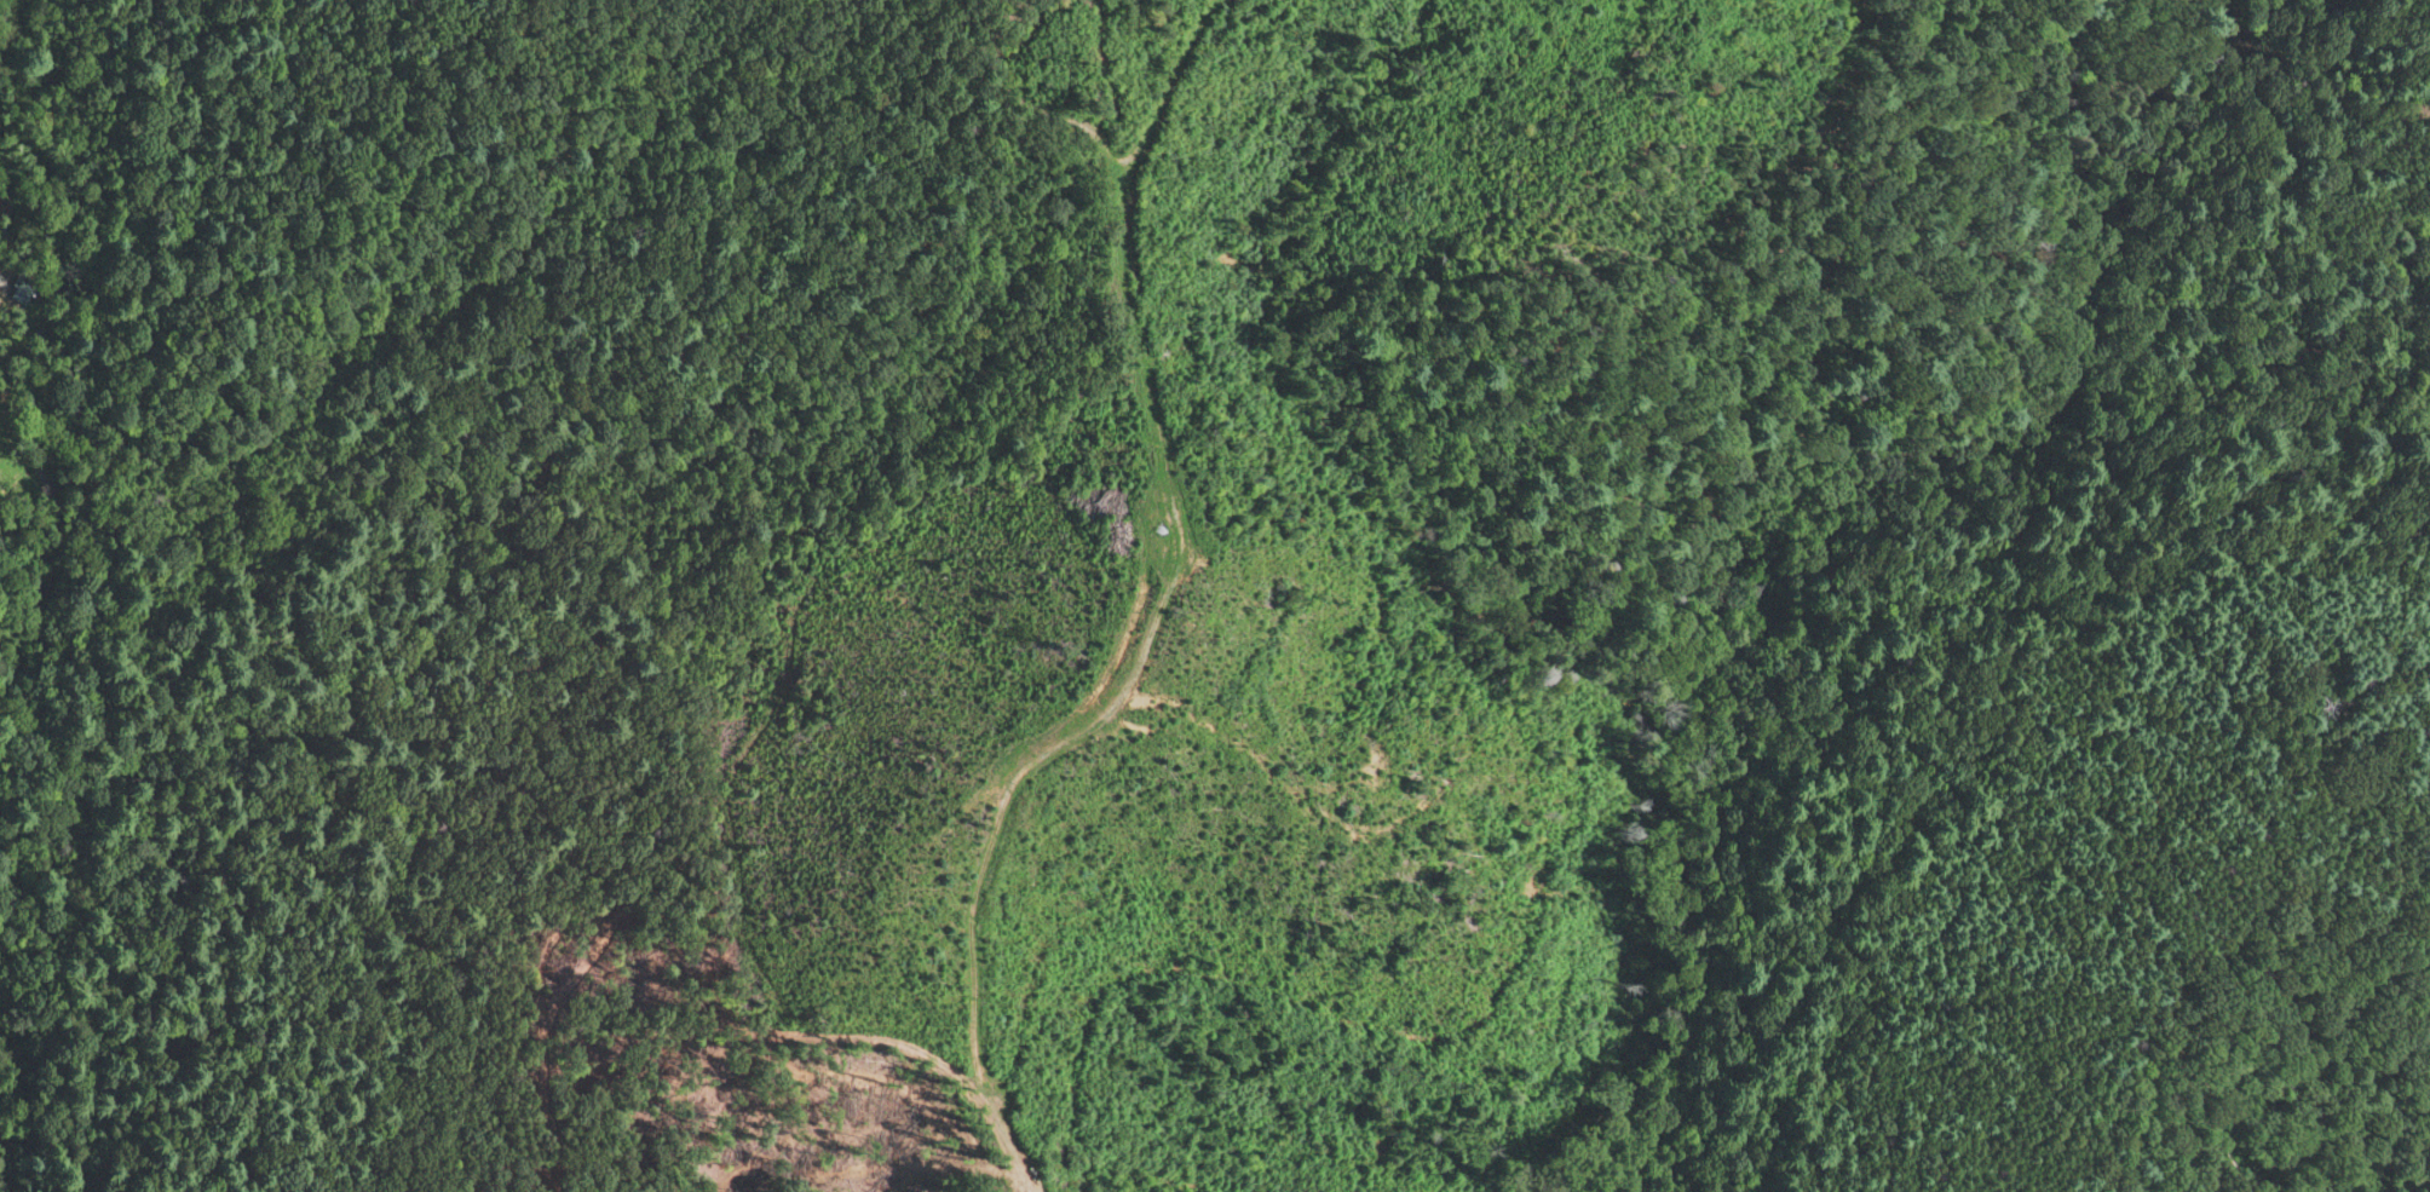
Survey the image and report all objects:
park: (2389, 113)
building: (27, 292)

